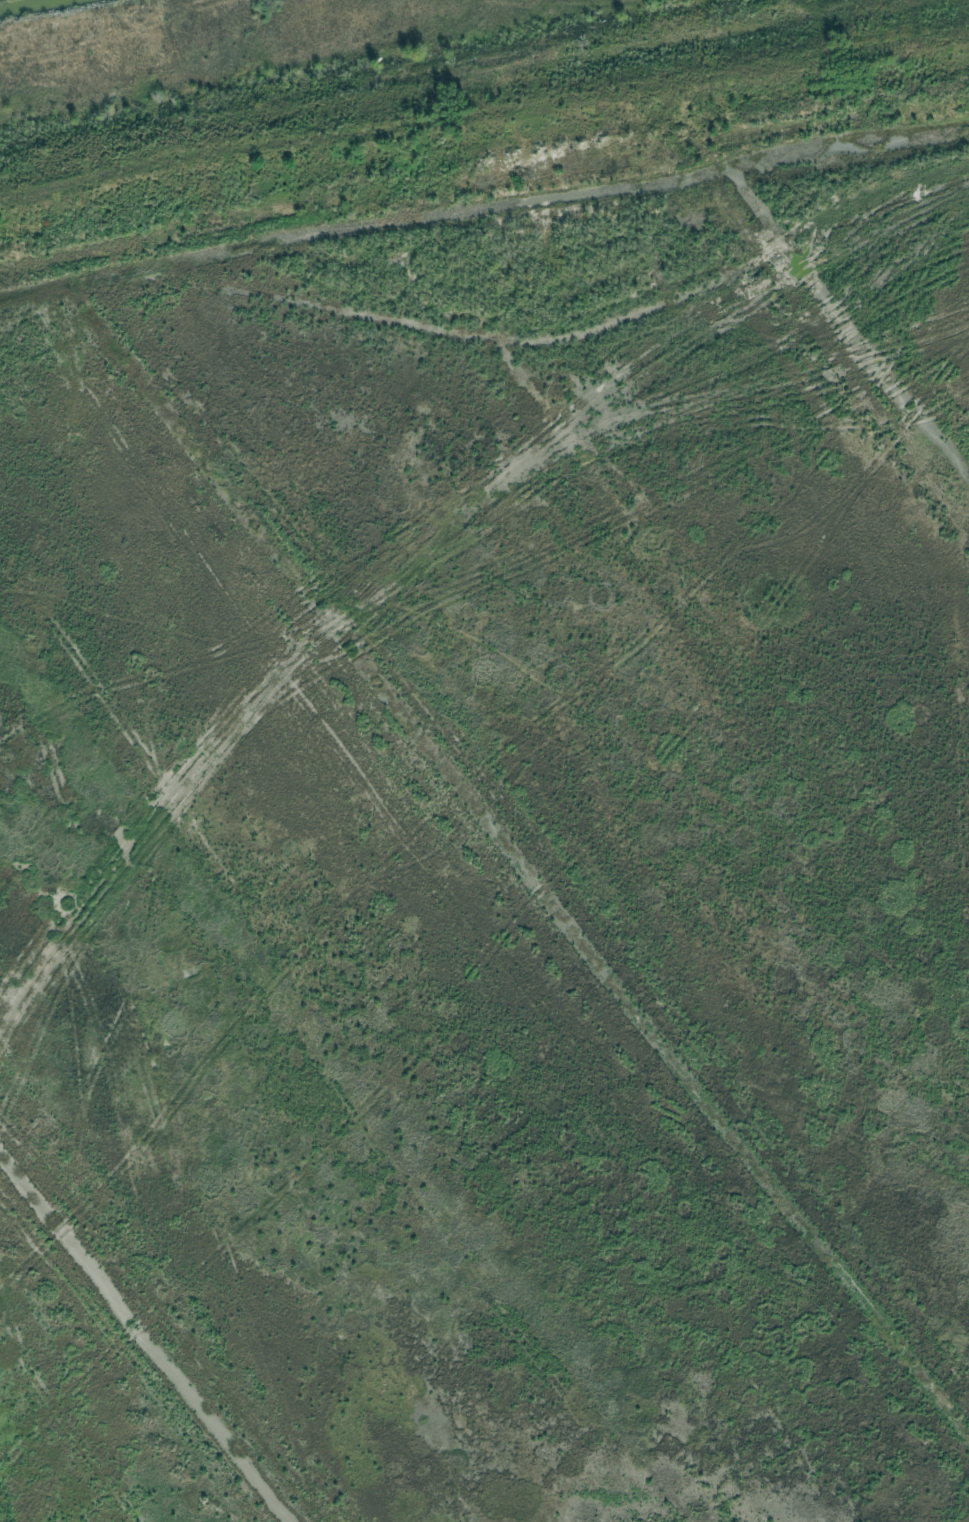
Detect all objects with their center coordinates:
landfill: (484, 761)

